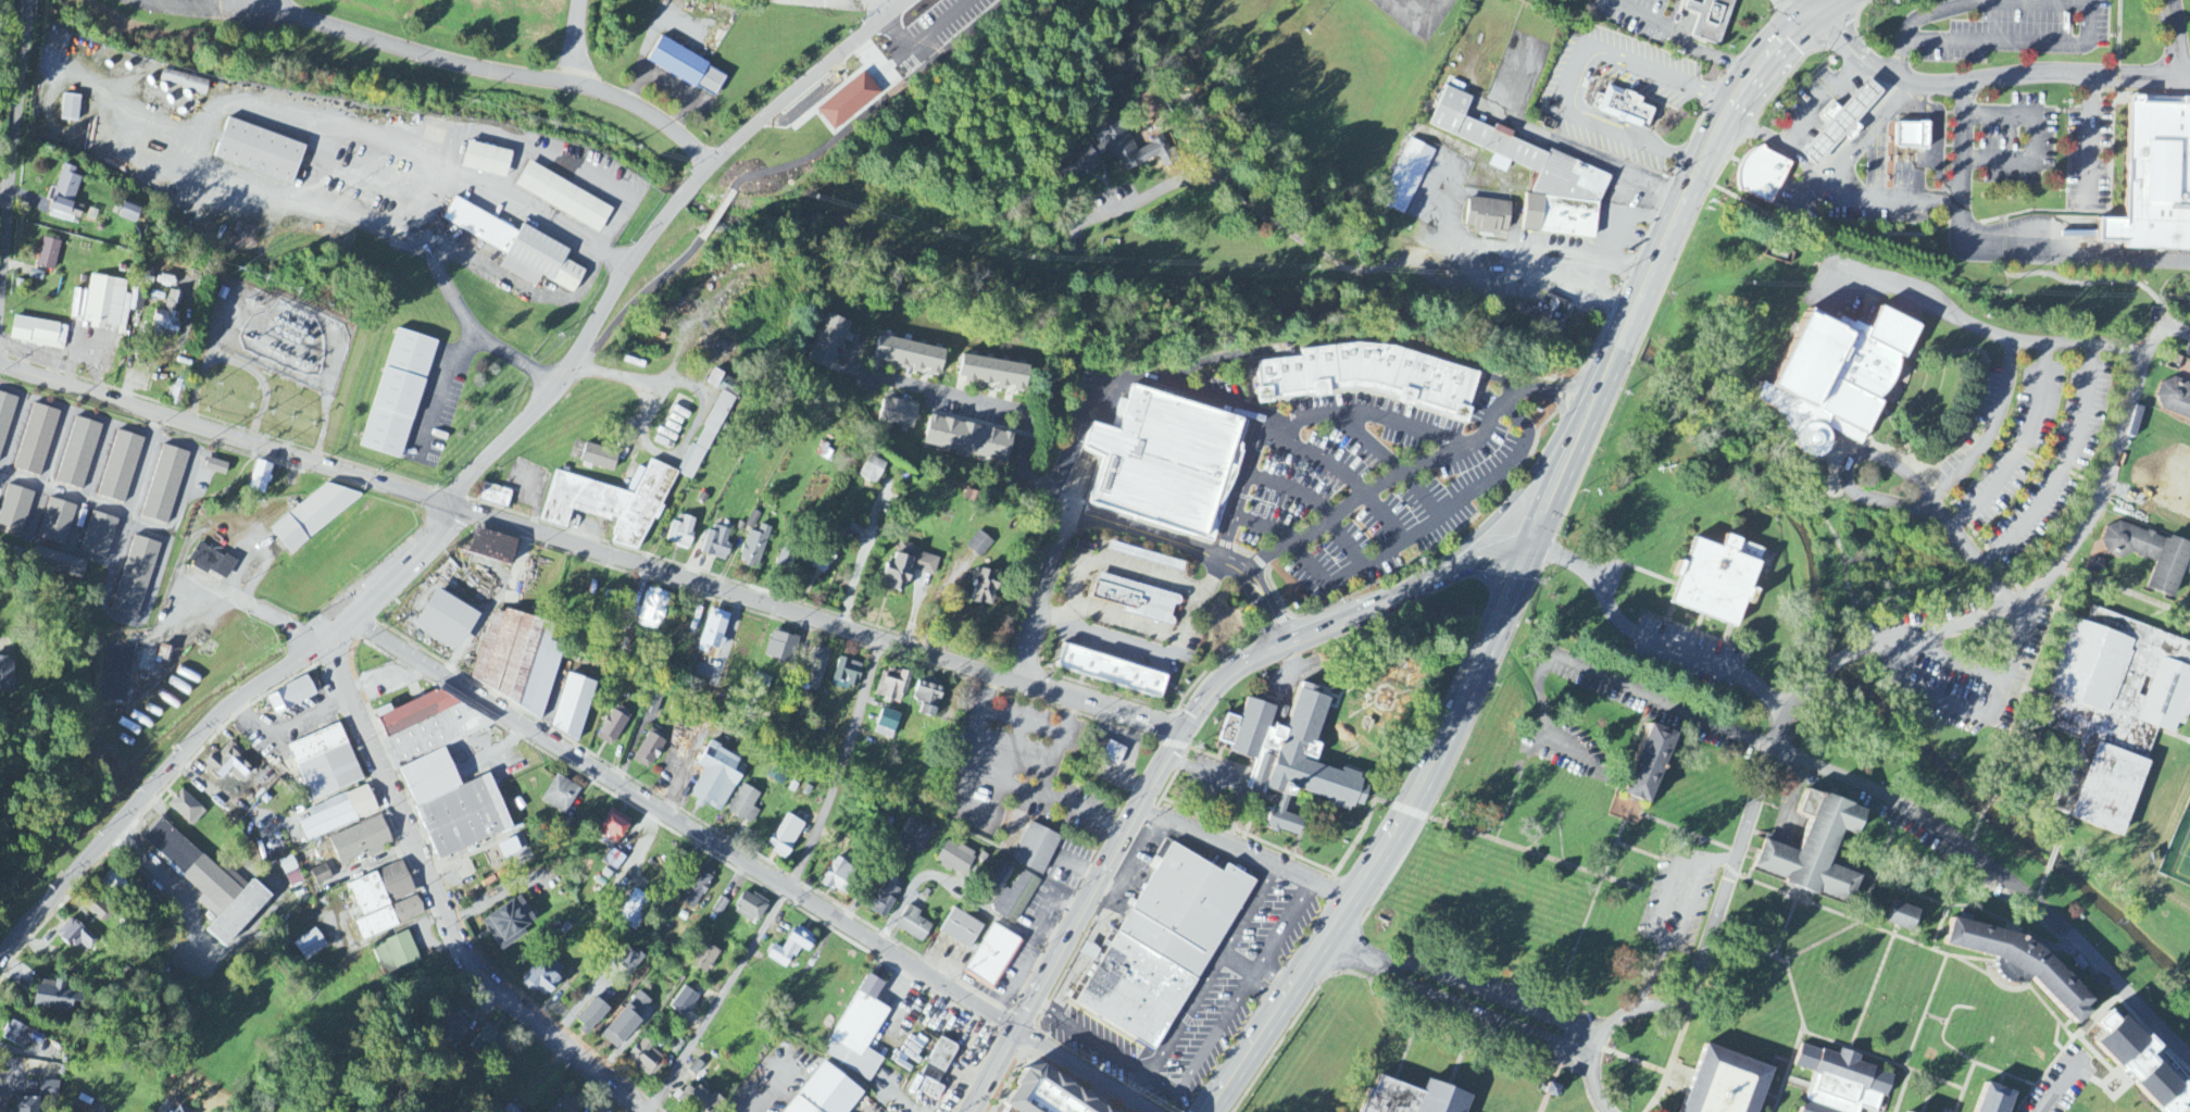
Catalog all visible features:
road: (2081, 1)
road: (193, 3)
road: (1812, 3)
road: (197, 7)
traffic signals: (1818, 7)
road: (875, 12)
parking lot: (1640, 16)
building: (1711, 18)
road: (1429, 20)
road: (1643, 20)
road: (1687, 20)
parking lot: (931, 26)
parking lot: (2020, 27)
road: (2118, 37)
road: (2176, 38)
road: (573, 41)
road: (1717, 55)
road: (489, 67)
building: (687, 67)
road: (1575, 76)
road: (1989, 78)
road: (796, 91)
building: (850, 95)
parking lot: (1812, 96)
parking lot: (1670, 98)
road: (1822, 101)
road: (861, 108)
building: (1624, 108)
building: (70, 109)
building: (1843, 122)
gas station: (1843, 122)
road: (1754, 130)
road: (197, 132)
road: (1868, 133)
building: (1913, 135)
road: (2035, 137)
parking lot: (2017, 138)
road: (2091, 141)
building: (1111, 146)
building: (260, 148)
road: (528, 148)
road: (197, 153)
parking lot: (2091, 155)
building: (488, 157)
road: (1873, 162)
road: (11, 163)
road: (321, 163)
road: (1749, 163)
road: (1801, 165)
road: (514, 171)
building: (1407, 174)
building: (1763, 175)
building: (2156, 178)
building: (1527, 180)
parking lot: (1442, 189)
road: (245, 190)
road: (1789, 192)
building: (66, 193)
building: (565, 193)
road: (683, 193)
road: (4, 196)
road: (1889, 197)
road: (526, 201)
road: (1685, 202)
parking lot: (1825, 205)
building: (128, 213)
road: (714, 216)
building: (60, 217)
parking lot: (1622, 228)
road: (1619, 238)
building: (518, 245)
road: (1994, 249)
road: (1515, 250)
building: (48, 254)
road: (614, 257)
road: (642, 300)
building: (168, 313)
building: (1549, 313)
road: (1982, 329)
building: (38, 334)
power substation: (277, 334)
building: (828, 338)
building: (908, 350)
road: (574, 364)
building: (991, 367)
building: (1371, 374)
building: (1841, 379)
building: (723, 383)
road: (1577, 385)
road: (439, 386)
road: (1098, 391)
building: (399, 393)
building: (2175, 399)
road: (1219, 400)
road: (1565, 408)
building: (897, 410)
road: (1264, 415)
building: (5, 417)
road: (1305, 420)
road: (1991, 430)
building: (706, 436)
building: (967, 436)
building: (36, 441)
road: (2022, 449)
building: (78, 454)
building: (1167, 457)
building: (599, 458)
road: (1025, 458)
building: (215, 467)
road: (2064, 467)
building: (121, 468)
building: (872, 471)
road: (1399, 472)
building: (259, 478)
road: (1847, 478)
building: (164, 485)
road: (1557, 488)
building: (495, 497)
building: (611, 505)
building: (14, 509)
building: (311, 516)
road: (1493, 516)
building: (57, 523)
road: (1434, 523)
building: (680, 533)
road: (547, 535)
building: (98, 536)
building: (716, 543)
building: (979, 545)
road: (1197, 547)
building: (491, 548)
building: (754, 548)
traffic signals: (1534, 548)
road: (1972, 552)
building: (2152, 552)
building: (824, 555)
road: (862, 555)
building: (1144, 558)
building: (786, 560)
building: (211, 562)
road: (1464, 562)
building: (59, 564)
building: (908, 567)
road: (1461, 575)
building: (1718, 575)
building: (136, 576)
road: (2047, 577)
building: (984, 588)
building: (1136, 596)
road: (1196, 602)
road: (252, 608)
building: (651, 610)
building: (446, 621)
building: (713, 632)
road: (1490, 634)
road: (1105, 635)
road: (1651, 638)
road: (7, 639)
building: (781, 648)
parking lot: (1686, 652)
building: (516, 661)
building: (1109, 666)
building: (815, 667)
road: (1590, 669)
building: (847, 675)
building: (7, 677)
building: (893, 686)
road: (1347, 691)
building: (290, 697)
building: (928, 699)
road: (1334, 703)
building: (652, 704)
parking lot: (1649, 705)
building: (573, 707)
building: (2116, 707)
road: (1387, 709)
building: (1284, 713)
road: (1140, 714)
road: (1022, 721)
road: (1340, 724)
building: (886, 725)
road: (213, 726)
building: (613, 727)
traffic signals: (1184, 728)
road: (1321, 739)
parking lot: (1569, 740)
road: (1059, 747)
building: (650, 750)
building: (1289, 753)
building: (1113, 754)
building: (228, 763)
building: (325, 763)
building: (1549, 769)
building: (441, 773)
building: (717, 779)
road: (1230, 782)
road: (1263, 791)
building: (561, 796)
road: (1993, 798)
road: (1284, 799)
road: (1140, 804)
building: (744, 805)
building: (186, 809)
road: (1252, 811)
road: (981, 812)
road: (1326, 813)
building: (338, 814)
building: (614, 827)
road: (2062, 829)
road: (1300, 830)
road: (1691, 833)
building: (786, 837)
building: (915, 837)
building: (360, 842)
road: (1512, 844)
building: (1036, 847)
building: (1818, 848)
road: (1638, 849)
road: (1287, 850)
building: (516, 852)
road: (1247, 853)
stadium: (2178, 855)
road: (1720, 858)
building: (955, 860)
road: (2051, 860)
road: (751, 869)
building: (290, 872)
building: (999, 874)
road: (2002, 875)
building: (321, 876)
building: (838, 876)
building: (209, 884)
road: (790, 885)
building: (697, 888)
road: (1359, 894)
building: (1014, 896)
parking lot: (1679, 897)
building: (884, 900)
building: (385, 901)
road: (1692, 902)
road: (1968, 904)
road: (439, 905)
road: (1866, 905)
building: (752, 907)
road: (1720, 907)
building: (100, 911)
building: (635, 912)
building: (1904, 913)
building: (508, 924)
building: (913, 925)
road: (1585, 925)
road: (404, 926)
building: (961, 926)
building: (75, 936)
building: (1164, 942)
building: (310, 946)
road: (1928, 947)
building: (791, 948)
building: (992, 954)
building: (396, 955)
building: (705, 960)
building: (2024, 961)
building: (627, 962)
road: (1653, 972)
building: (540, 982)
road: (1274, 985)
road: (1873, 987)
road: (1461, 995)
building: (55, 997)
road: (1795, 997)
building: (685, 1003)
road: (1237, 1004)
parking lot: (1488, 1005)
road: (1924, 1011)
building: (591, 1016)
road: (1936, 1019)
building: (627, 1021)
traffic signals: (1016, 1028)
building: (452, 1030)
building: (855, 1034)
building: (16, 1036)
road: (1089, 1036)
building: (489, 1044)
road: (1676, 1049)
road: (2085, 1053)
building: (646, 1059)
road: (1969, 1059)
road: (1882, 1060)
building: (2141, 1064)
building: (696, 1069)
building: (937, 1070)
building: (43, 1072)
building: (1842, 1079)
road: (1593, 1082)
building: (1728, 1082)
road: (1229, 1084)
road: (1138, 1085)
road: (1550, 1087)
building: (1550, 1091)
building: (825, 1092)
building: (1051, 1094)
building: (1411, 1097)
building: (1995, 1097)
building: (699, 1100)
building: (566, 1103)
building: (25, 1105)
building: (510, 1109)
building: (182, 1110)
building: (1911, 1111)

